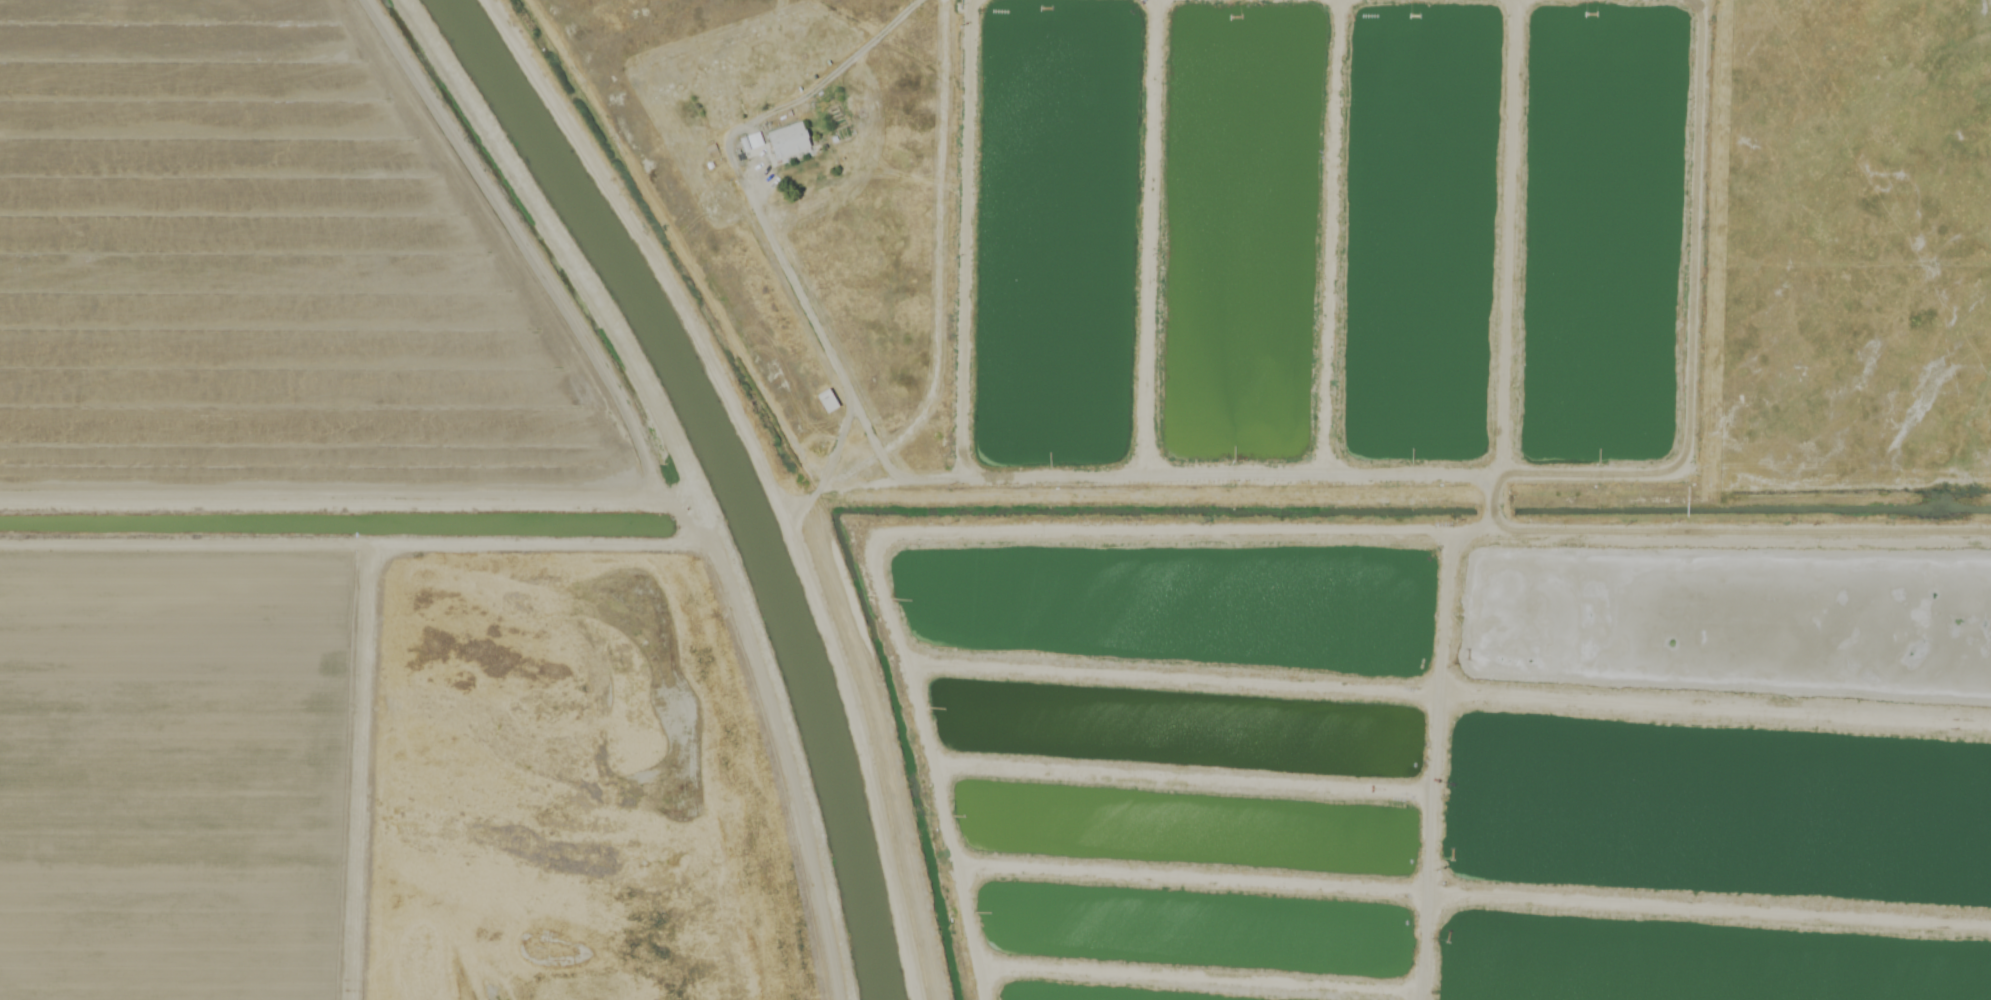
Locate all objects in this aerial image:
building: (789, 140)
building: (751, 142)
crop: (298, 282)
road: (797, 289)
building: (828, 401)
road: (850, 691)

